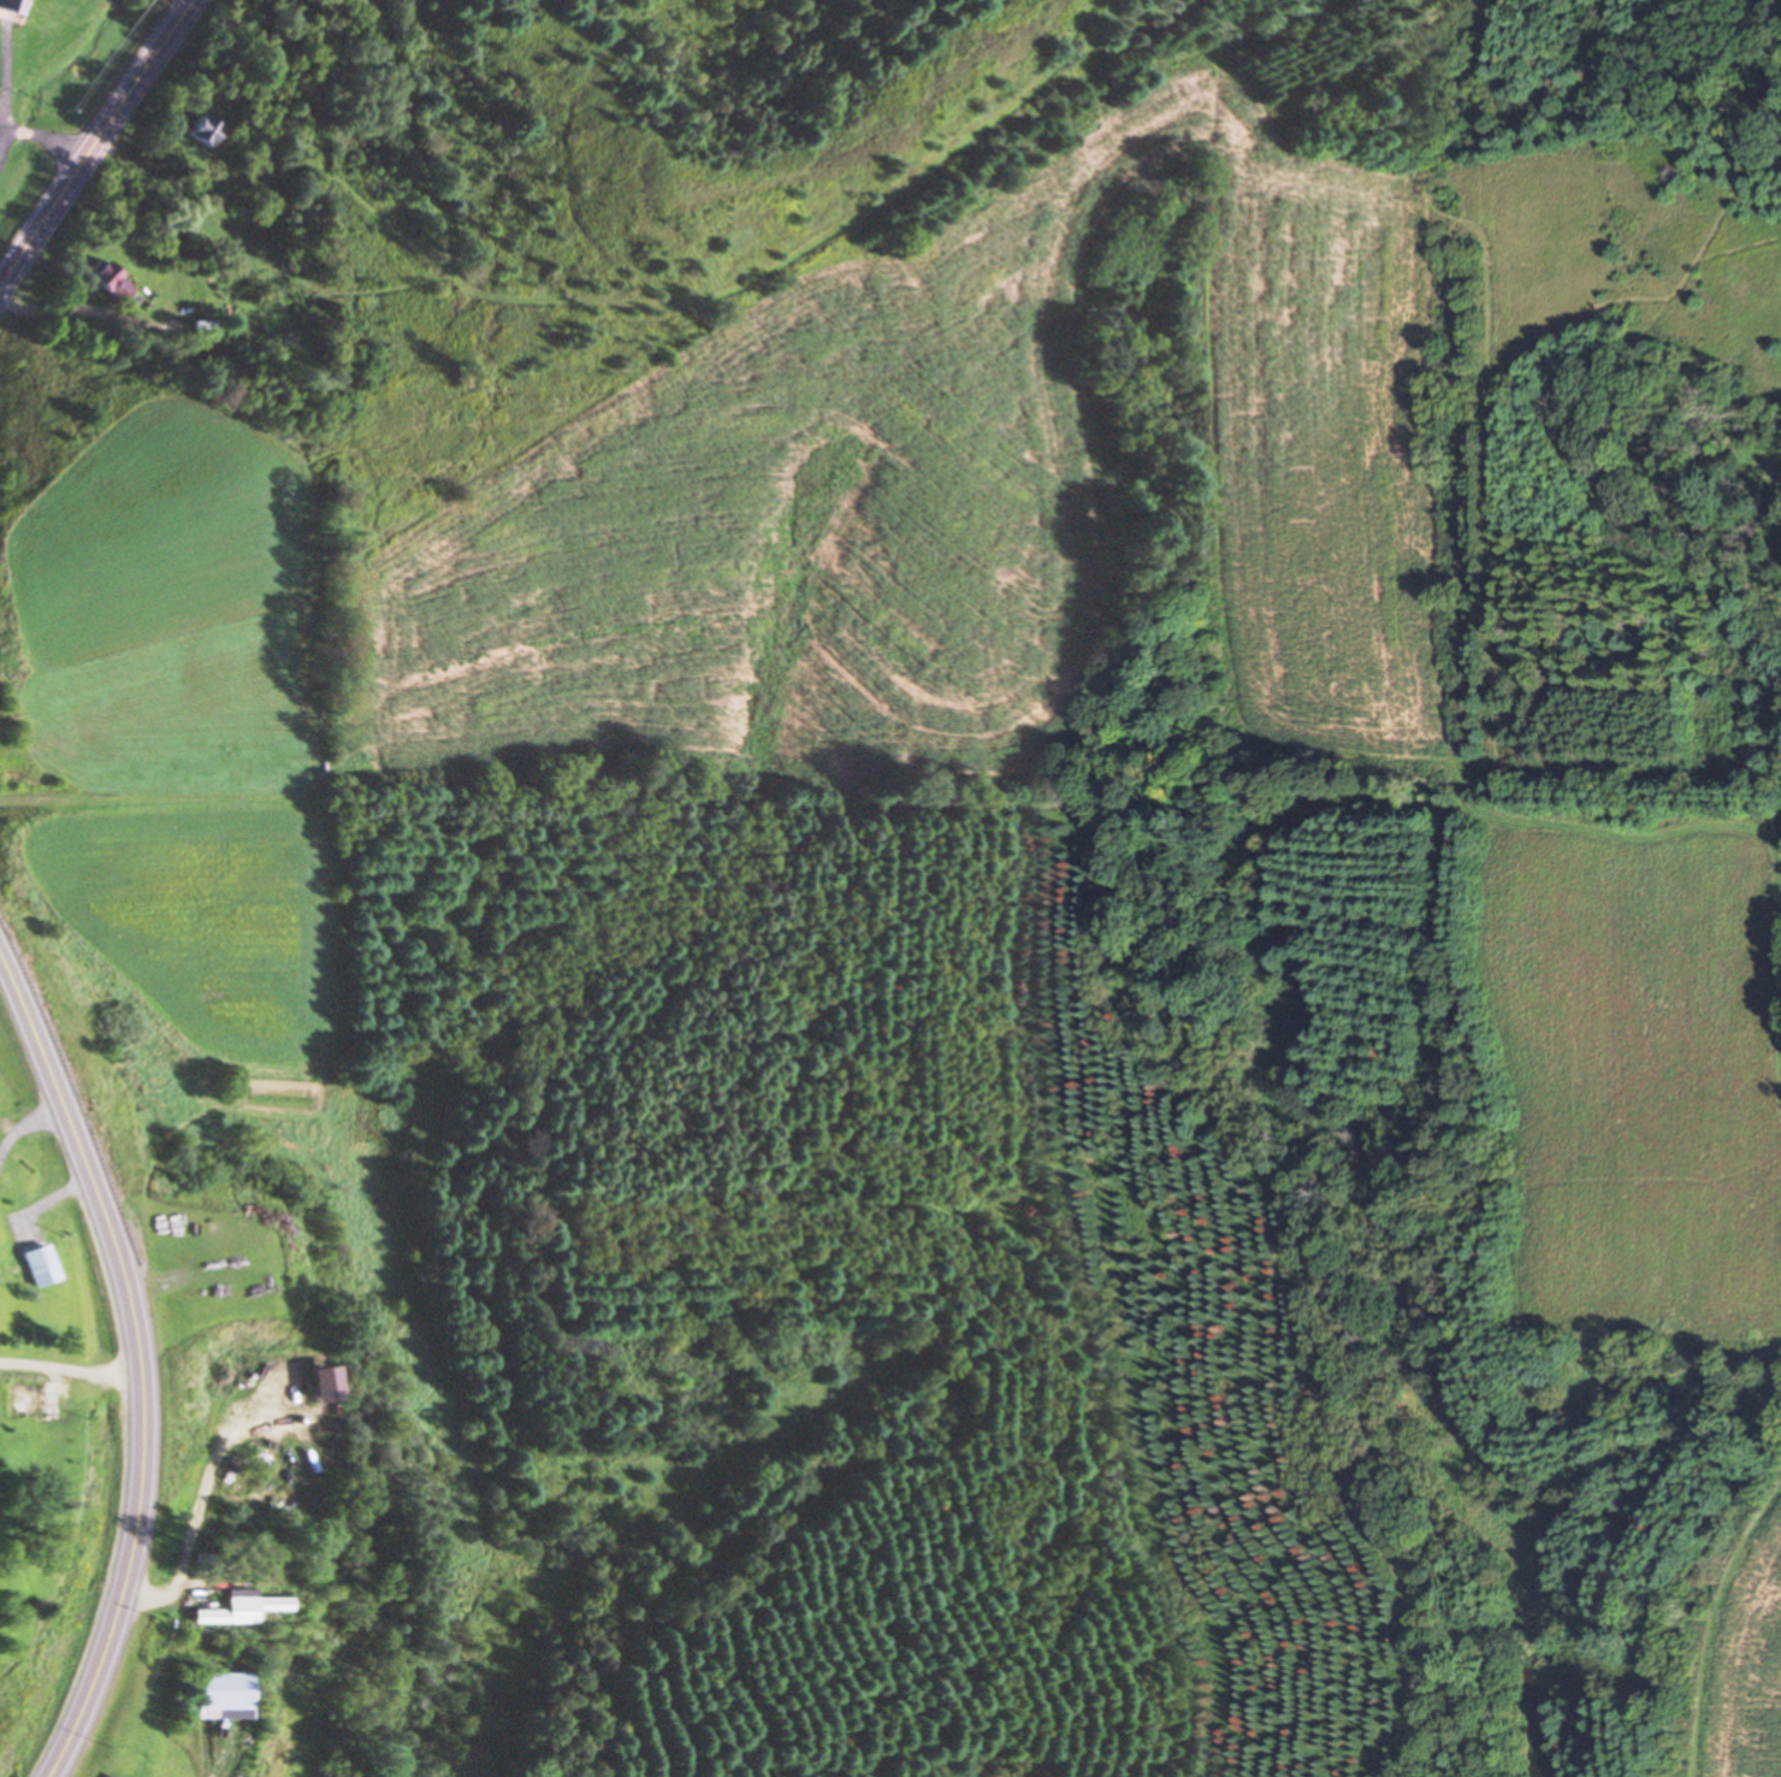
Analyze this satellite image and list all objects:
building: (7, 6)
building: (197, 131)
road: (94, 140)
building: (106, 283)
building: (37, 1267)
road: (67, 1364)
road: (135, 1370)
building: (25, 1400)
building: (232, 1423)
building: (235, 1608)
building: (219, 1695)
building: (106, 1776)

